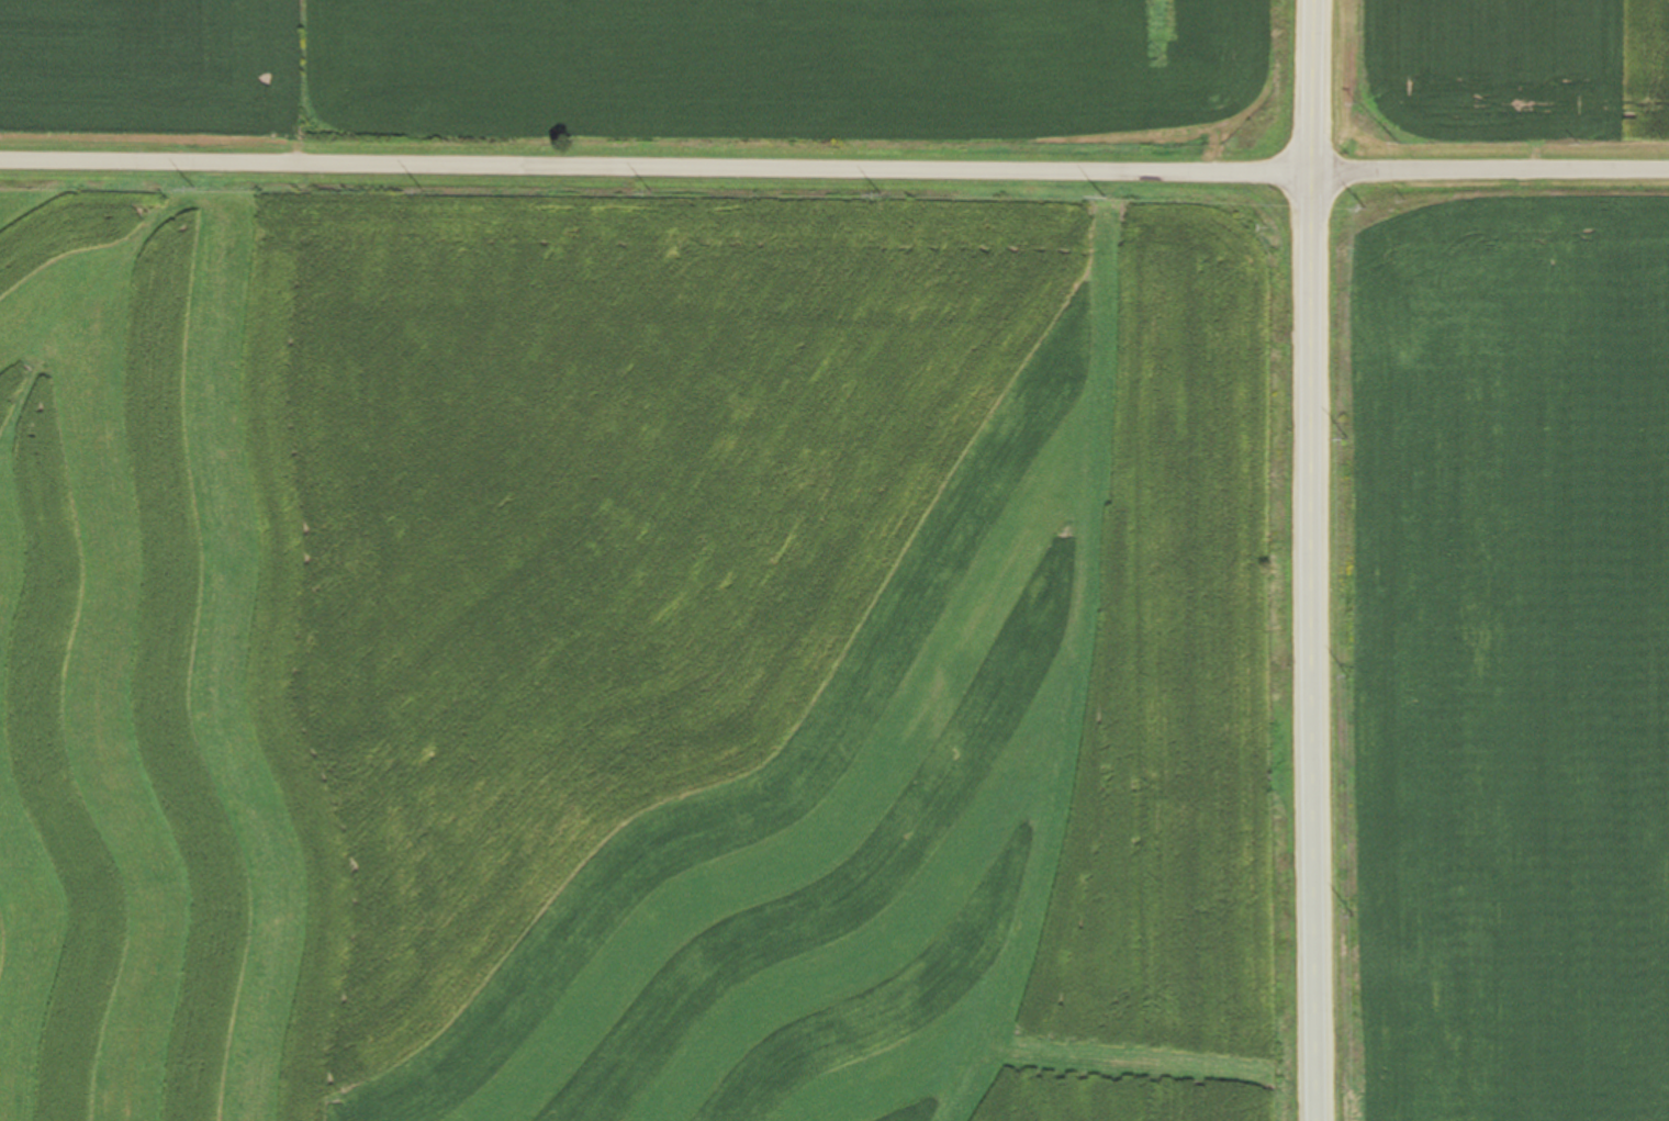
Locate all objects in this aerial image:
road: (1492, 187)
road: (658, 188)
road: (1317, 560)

